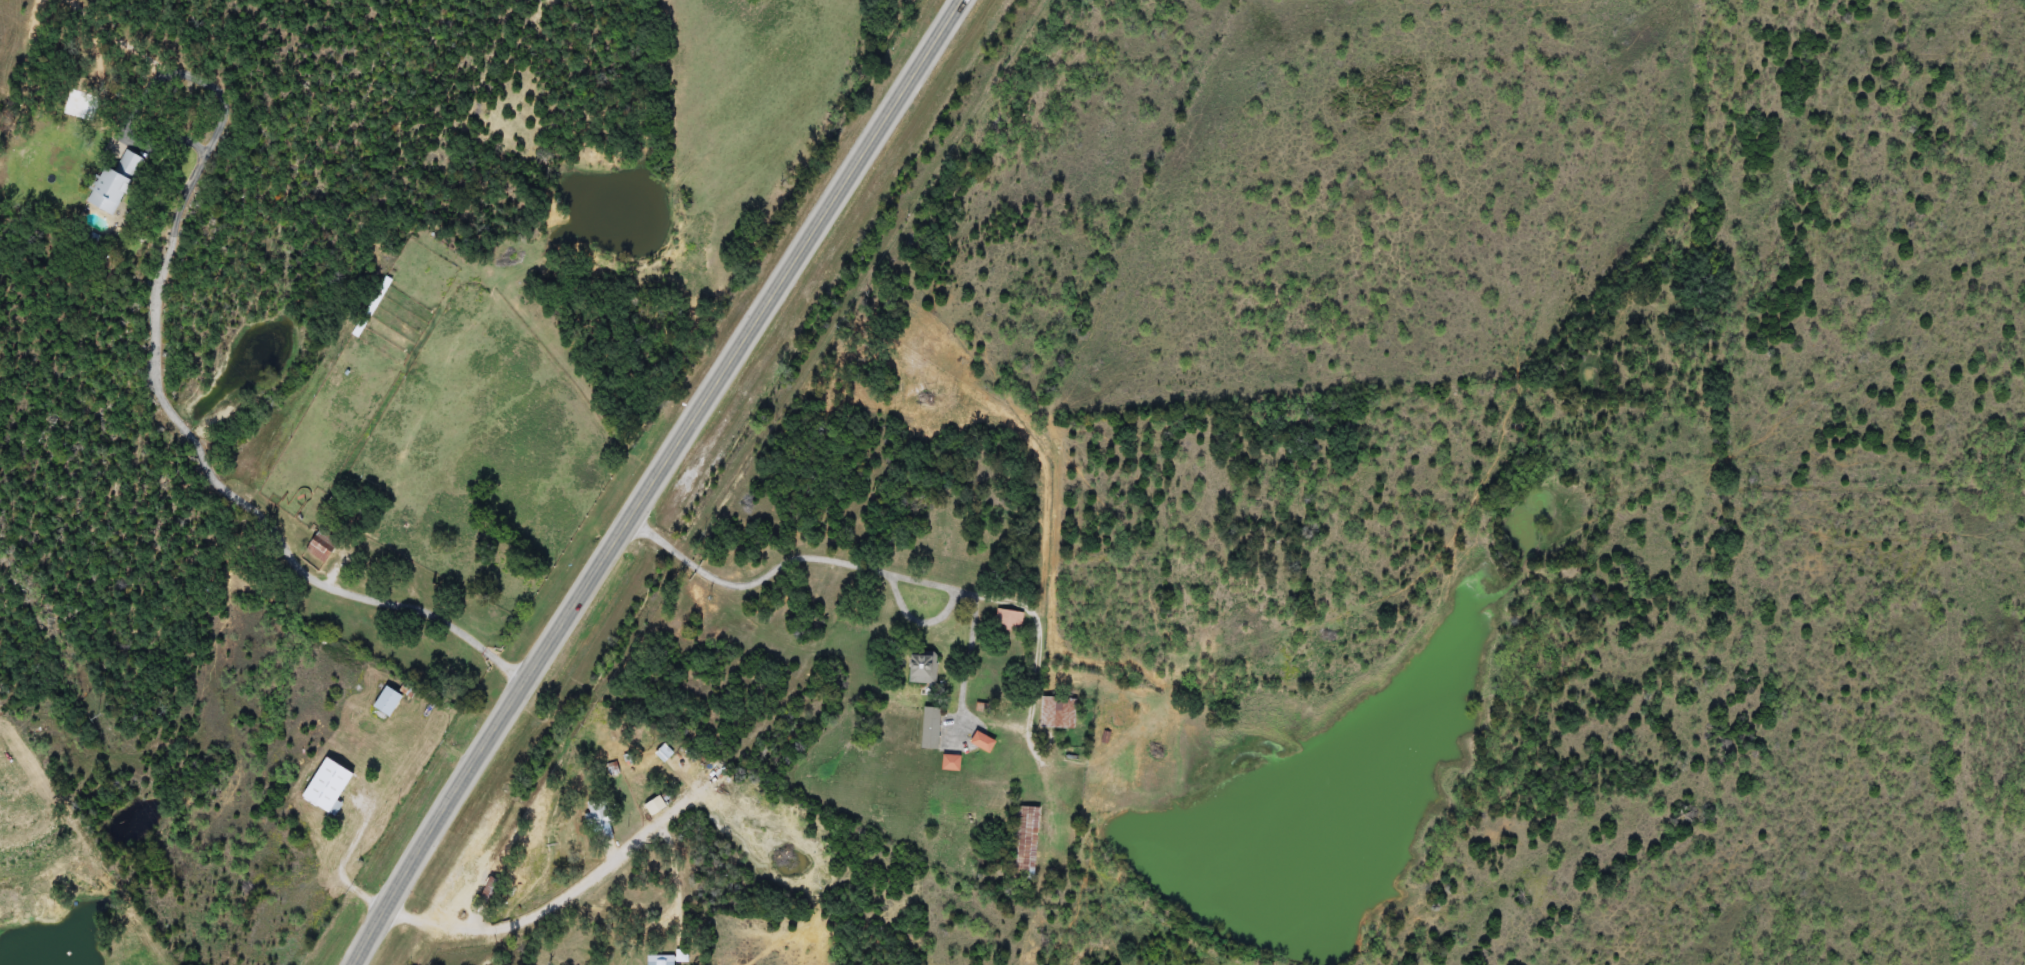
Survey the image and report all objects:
building: (111, 184)
road: (206, 466)
road: (650, 478)
railway: (718, 482)
road: (920, 576)
building: (1006, 621)
building: (918, 667)
building: (384, 701)
building: (1055, 713)
power tower: (87, 717)
building: (928, 728)
building: (979, 742)
building: (947, 763)
road: (1073, 777)
building: (324, 786)
building: (596, 825)
building: (1022, 843)
road: (678, 879)
road: (550, 901)
building: (664, 959)

